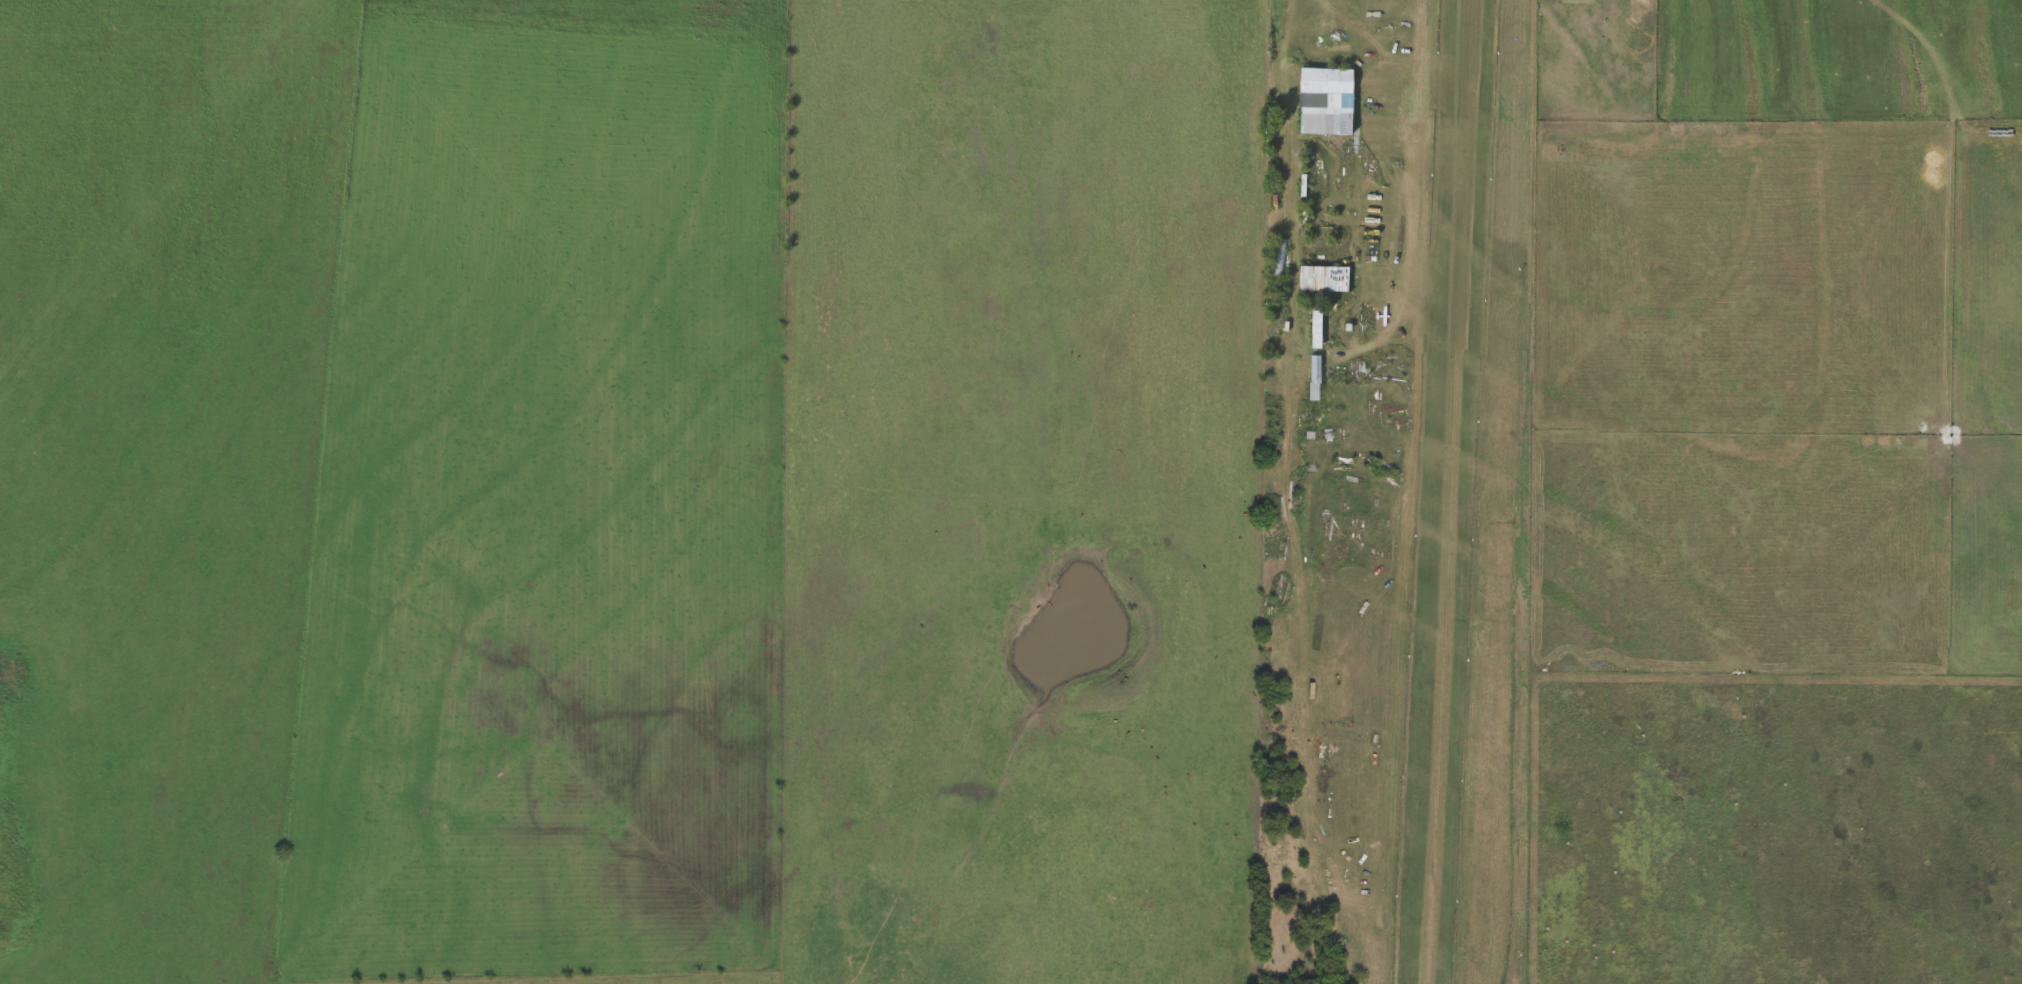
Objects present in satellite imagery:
building: (1323, 19)
building: (1340, 79)
building: (1327, 118)
building: (1276, 254)
building: (1325, 276)
building: (1317, 326)
airport runway: (1452, 492)
airport: (1403, 493)

